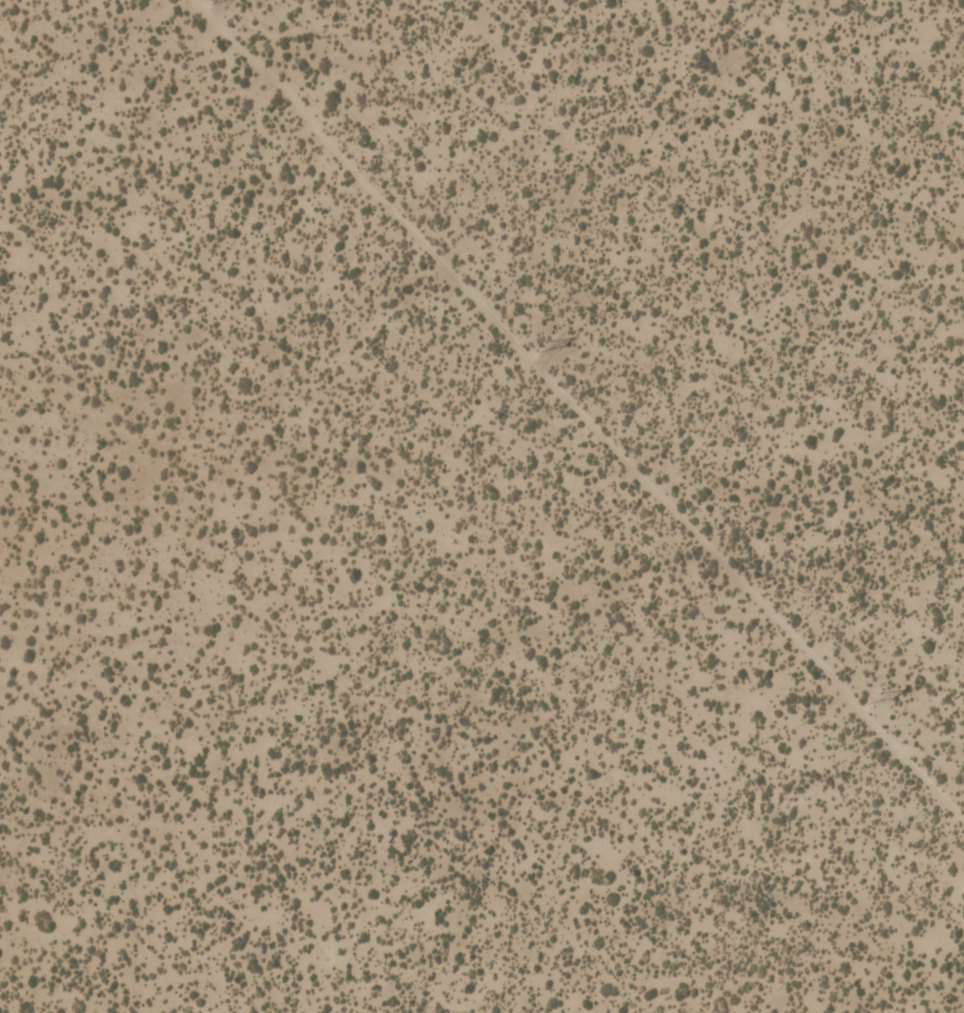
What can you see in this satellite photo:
power tower: (542, 344)
road: (580, 408)
power tower: (871, 695)

